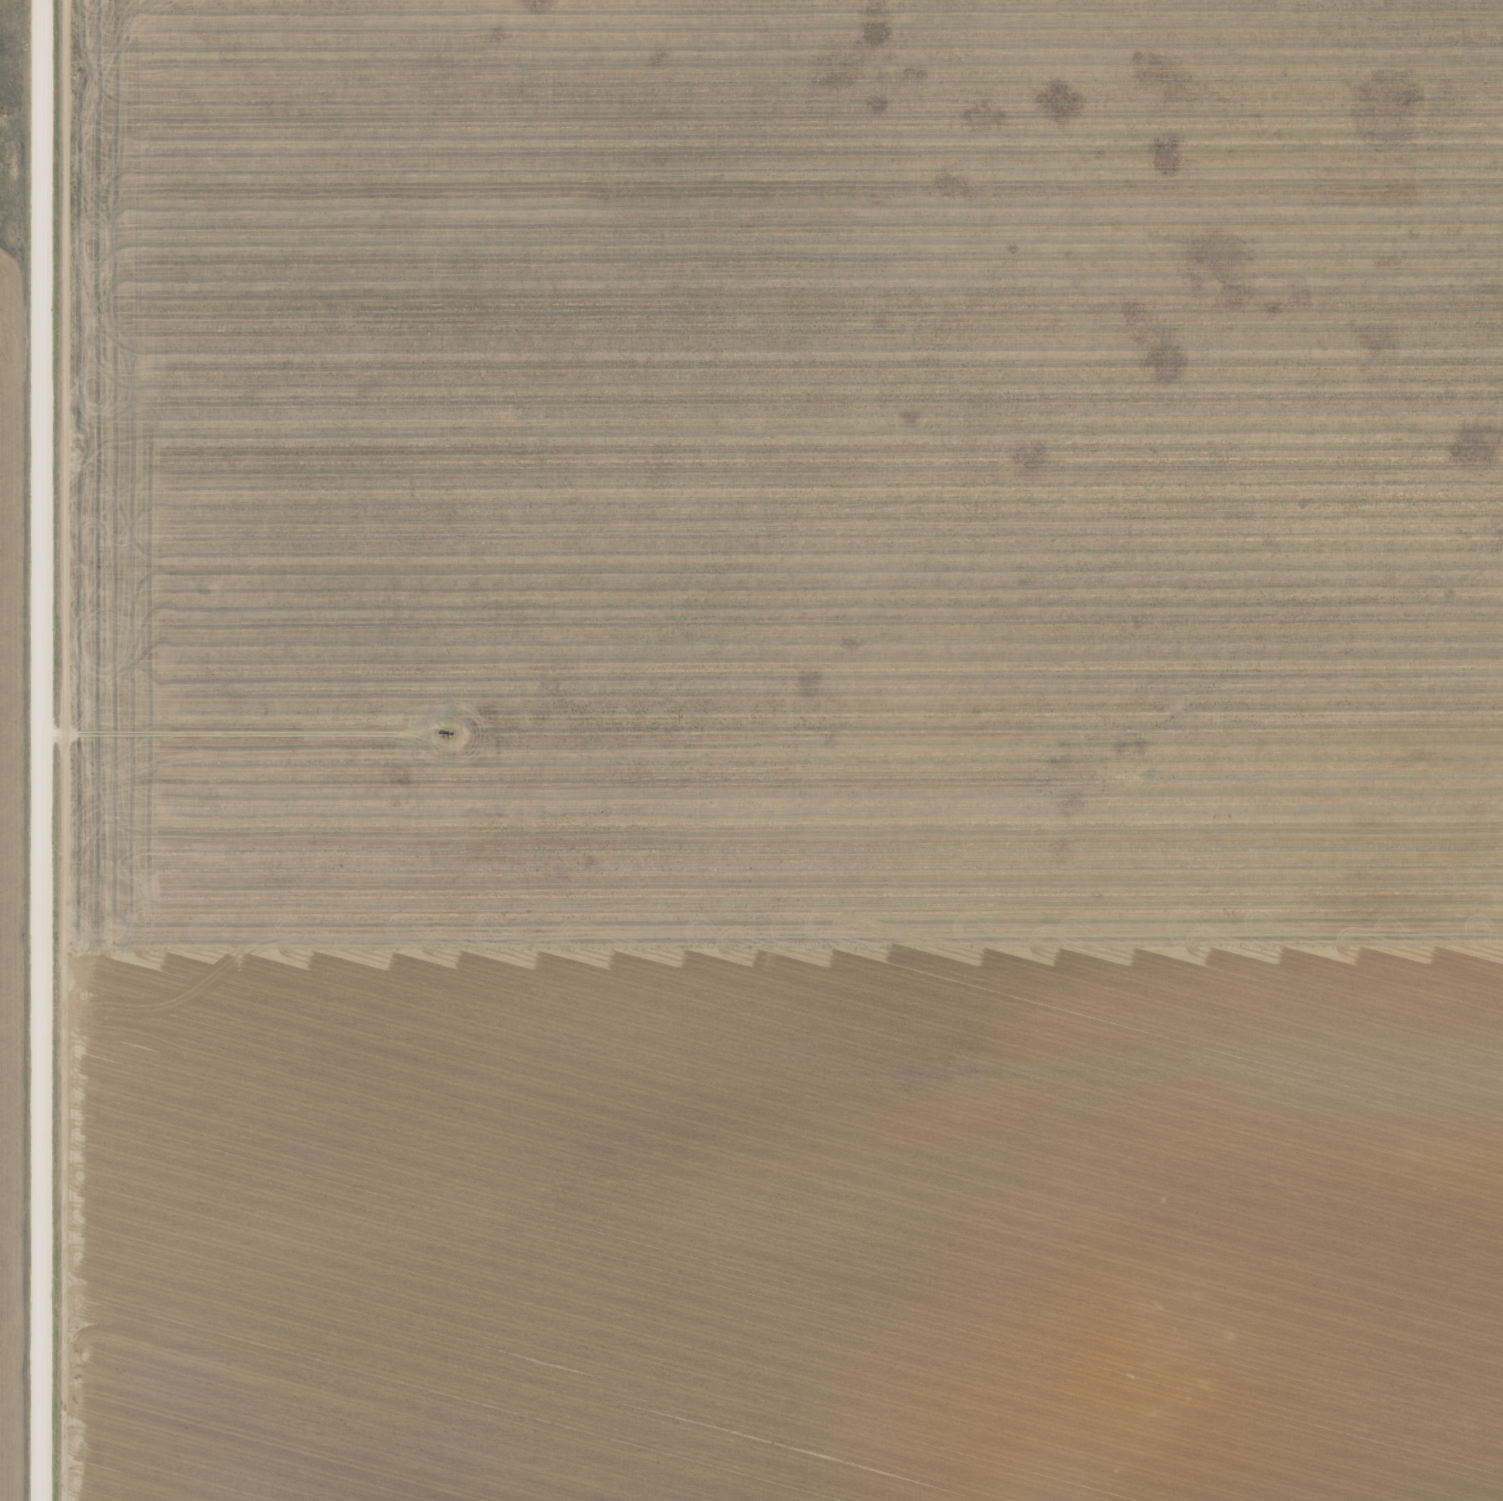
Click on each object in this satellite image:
railway: (630, 680)
road: (39, 750)

